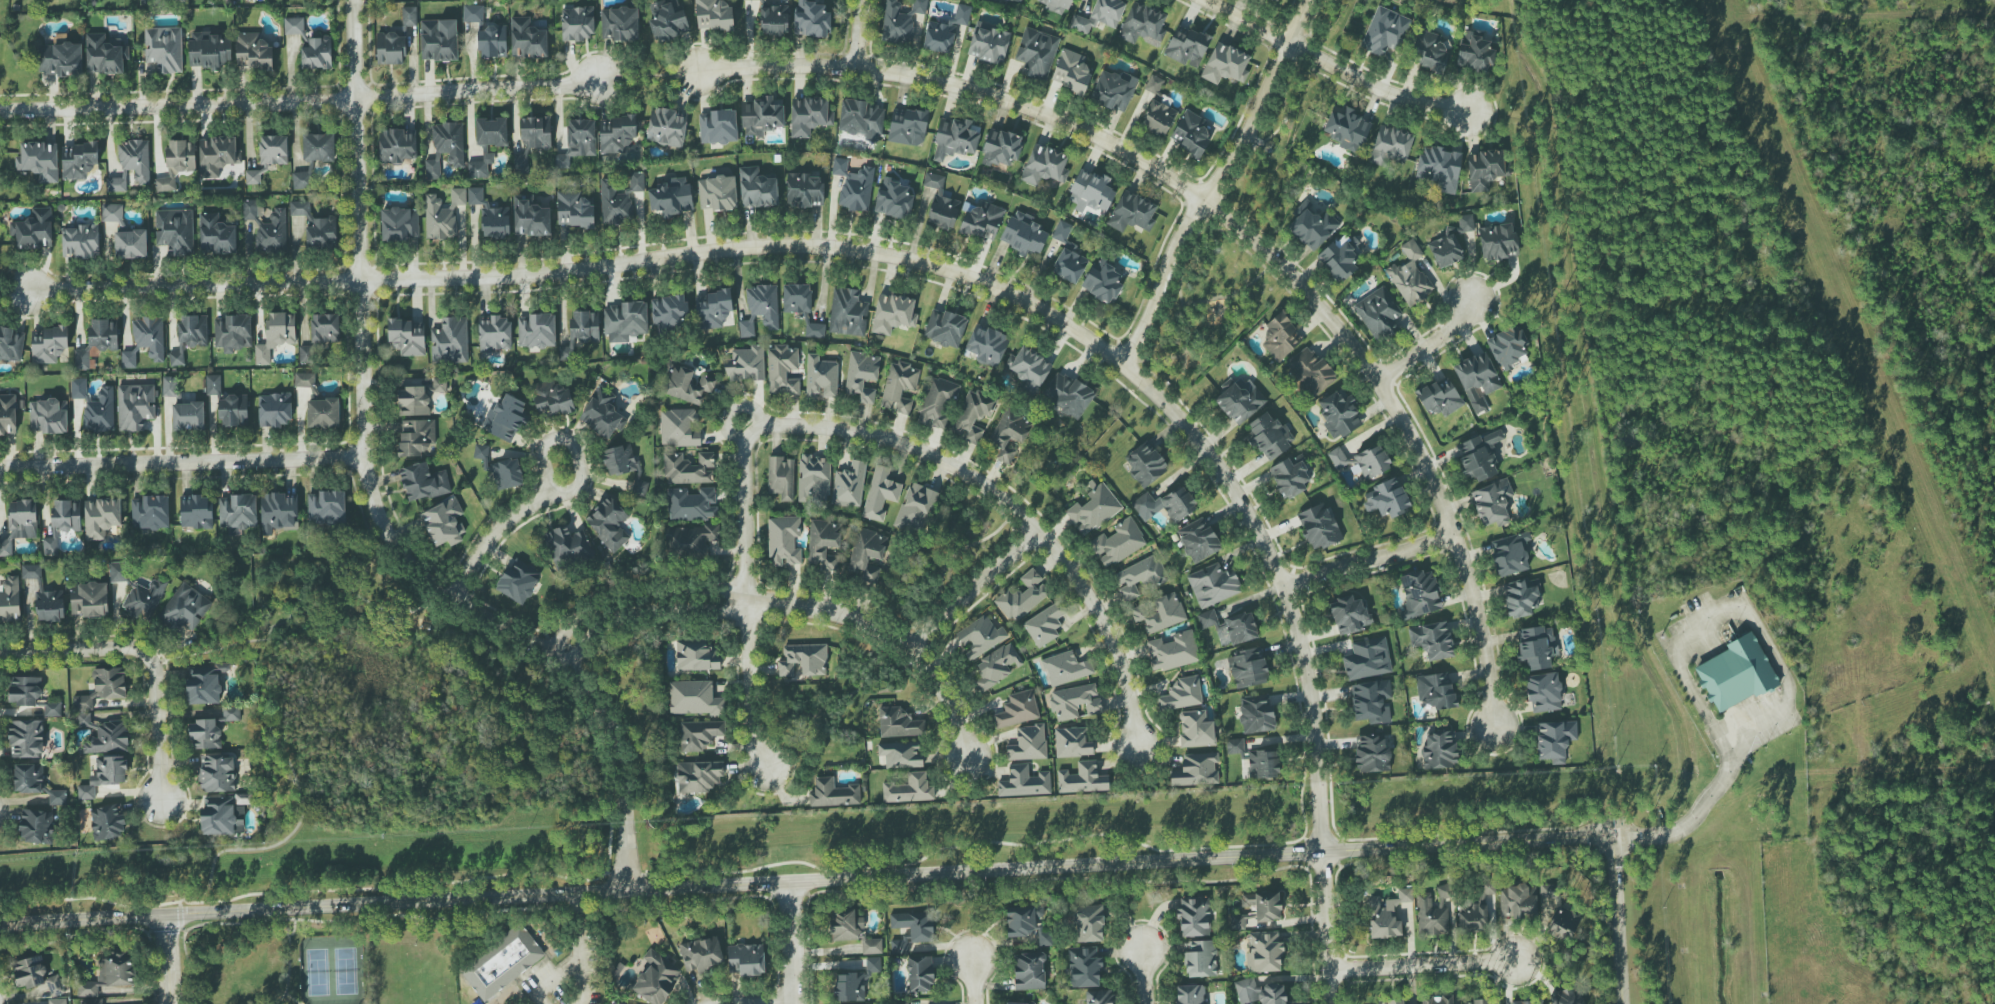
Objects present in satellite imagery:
building: (1016, 0)
building: (1274, 0)
building: (149, 1)
building: (1056, 5)
building: (919, 6)
building: (713, 15)
building: (409, 16)
building: (1099, 16)
building: (811, 19)
building: (667, 20)
building: (774, 20)
building: (578, 23)
building: (620, 24)
building: (896, 24)
building: (1142, 24)
park: (1333, 24)
building: (293, 26)
building: (945, 31)
building: (1384, 31)
building: (487, 33)
road: (856, 33)
building: (527, 39)
building: (439, 40)
building: (989, 43)
building: (1187, 46)
building: (164, 49)
building: (391, 49)
building: (254, 50)
building: (208, 51)
building: (1429, 51)
building: (317, 53)
building: (1036, 53)
building: (1475, 53)
building: (104, 55)
building: (61, 59)
road: (1328, 61)
building: (1225, 64)
building: (1071, 71)
road: (641, 79)
building: (1154, 84)
building: (1112, 91)
road: (294, 100)
building: (762, 116)
building: (809, 116)
building: (1158, 118)
building: (862, 119)
building: (666, 127)
building: (718, 127)
building: (908, 128)
building: (1347, 129)
building: (536, 131)
building: (491, 132)
building: (616, 134)
building: (1190, 134)
building: (955, 138)
building: (578, 141)
building: (397, 145)
building: (1390, 145)
building: (319, 147)
building: (445, 148)
building: (1001, 149)
park: (1274, 149)
building: (273, 151)
building: (217, 155)
building: (135, 159)
building: (79, 160)
building: (39, 161)
building: (177, 163)
building: (520, 164)
building: (1045, 165)
building: (481, 167)
building: (1438, 168)
building: (1485, 169)
building: (253, 177)
building: (301, 180)
road: (1208, 180)
building: (636, 182)
building: (933, 182)
building: (117, 184)
building: (854, 185)
building: (757, 189)
building: (804, 190)
building: (1090, 192)
building: (717, 193)
building: (672, 197)
building: (893, 199)
building: (614, 204)
building: (249, 209)
building: (574, 210)
building: (943, 212)
building: (1132, 212)
building: (112, 213)
building: (443, 215)
building: (530, 217)
building: (981, 221)
building: (1466, 222)
building: (399, 225)
road: (1234, 225)
building: (315, 226)
building: (1312, 226)
building: (32, 230)
building: (175, 231)
building: (272, 232)
building: (1023, 234)
building: (216, 235)
building: (1498, 241)
building: (81, 242)
building: (131, 244)
building: (1445, 250)
building: (1067, 256)
building: (1340, 257)
building: (1410, 276)
road: (339, 281)
building: (1103, 282)
road: (11, 291)
building: (801, 307)
building: (713, 309)
building: (760, 309)
park: (1206, 309)
building: (669, 313)
building: (847, 313)
building: (893, 313)
building: (1378, 313)
building: (625, 321)
building: (584, 327)
building: (325, 328)
building: (945, 328)
building: (536, 330)
building: (233, 333)
building: (493, 334)
building: (103, 335)
building: (149, 336)
building: (189, 336)
building: (276, 336)
building: (407, 337)
building: (1280, 337)
building: (450, 341)
building: (11, 344)
building: (49, 345)
building: (987, 345)
road: (1429, 346)
building: (1508, 348)
building: (306, 354)
building: (82, 359)
building: (128, 359)
building: (746, 364)
building: (782, 370)
building: (1030, 370)
building: (1311, 372)
building: (822, 376)
building: (861, 376)
building: (1477, 379)
building: (304, 380)
road: (1142, 382)
building: (213, 384)
building: (686, 385)
building: (169, 386)
building: (899, 387)
building: (78, 388)
building: (1068, 394)
building: (1439, 397)
building: (418, 398)
building: (552, 398)
building: (1240, 400)
building: (938, 403)
building: (135, 406)
building: (274, 410)
road: (729, 410)
building: (100, 411)
building: (233, 411)
building: (323, 413)
building: (602, 414)
building: (972, 414)
building: (1339, 414)
building: (8, 415)
building: (48, 416)
building: (188, 416)
building: (505, 418)
building: (678, 428)
building: (1009, 433)
building: (1269, 435)
building: (416, 437)
building: (481, 452)
building: (1479, 456)
building: (620, 460)
building: (1362, 461)
road: (181, 463)
building: (1145, 465)
building: (689, 469)
building: (507, 473)
building: (781, 477)
building: (813, 478)
building: (1289, 478)
building: (423, 482)
building: (849, 484)
building: (640, 487)
road: (554, 491)
building: (880, 493)
building: (1387, 498)
road: (373, 500)
building: (1492, 503)
building: (692, 504)
building: (1165, 505)
building: (916, 507)
building: (326, 508)
road: (742, 509)
building: (1093, 510)
building: (238, 511)
building: (150, 512)
building: (196, 512)
building: (278, 512)
road: (1022, 513)
building: (101, 517)
building: (444, 522)
building: (62, 523)
building: (20, 524)
building: (609, 524)
building: (1319, 526)
building: (693, 540)
building: (784, 540)
building: (1198, 540)
building: (1118, 543)
building: (824, 545)
building: (567, 548)
building: (1510, 555)
building: (866, 556)
road: (1366, 560)
building: (118, 572)
building: (1139, 577)
building: (518, 581)
building: (1213, 585)
road: (979, 590)
building: (1420, 594)
building: (45, 596)
building: (1023, 596)
building: (1520, 597)
building: (89, 599)
building: (144, 599)
building: (10, 600)
road: (798, 605)
building: (186, 607)
building: (1159, 613)
building: (1349, 614)
building: (1045, 624)
building: (1230, 627)
park: (885, 637)
building: (980, 637)
building: (1432, 640)
road: (209, 647)
building: (1537, 647)
road: (68, 650)
building: (1172, 651)
building: (696, 655)
building: (1367, 658)
building: (804, 660)
building: (997, 666)
building: (1066, 668)
building: (1248, 668)
building: (1733, 674)
building: (204, 683)
building: (103, 687)
road: (747, 688)
building: (1435, 690)
building: (25, 691)
building: (1543, 692)
building: (1182, 694)
building: (694, 698)
building: (1075, 701)
building: (1371, 701)
park: (399, 709)
building: (1017, 709)
building: (52, 710)
building: (230, 714)
building: (1256, 714)
road: (270, 718)
building: (85, 719)
road: (155, 722)
building: (898, 723)
building: (1196, 729)
building: (204, 734)
building: (700, 734)
building: (26, 738)
building: (108, 738)
building: (1555, 740)
building: (1072, 742)
building: (1028, 743)
building: (1234, 746)
building: (1439, 750)
building: (901, 754)
building: (1371, 754)
building: (1263, 764)
building: (1196, 770)
building: (217, 774)
building: (104, 776)
building: (699, 776)
building: (28, 778)
building: (1082, 779)
building: (1024, 782)
building: (909, 789)
building: (833, 793)
building: (57, 797)
building: (221, 816)
building: (107, 822)
building: (36, 826)
road: (1684, 829)
traffic signals: (1619, 844)
road: (809, 887)
building: (1548, 891)
building: (1515, 901)
building: (1261, 906)
building: (1476, 909)
road: (580, 911)
building: (1432, 913)
building: (1387, 914)
building: (1193, 916)
building: (1022, 920)
building: (1089, 923)
building: (1564, 924)
road: (1621, 924)
building: (915, 925)
road: (1324, 928)
building: (852, 930)
building: (1045, 937)
road: (580, 942)
road: (791, 946)
building: (896, 947)
building: (1264, 951)
building: (702, 954)
building: (746, 959)
building: (1200, 959)
road: (287, 960)
road: (169, 961)
building: (502, 961)
park: (325, 964)
building: (873, 964)
building: (1085, 966)
road: (1417, 966)
park: (332, 969)
building: (1029, 971)
building: (110, 973)
building: (920, 973)
building: (36, 975)
parking lot: (566, 975)
road: (1143, 976)
road: (555, 977)
building: (656, 978)
road: (582, 980)
road: (975, 985)
building: (850, 986)
building: (1260, 992)
building: (1189, 994)
building: (1566, 996)
building: (1100, 997)
road: (294, 999)
building: (1437, 1000)
building: (57, 1001)
building: (93, 1001)
building: (902, 1002)
building: (1390, 1002)
building: (1478, 1002)
building: (1527, 1002)
building: (612, 1003)
road: (774, 1003)
building: (1019, 1003)

